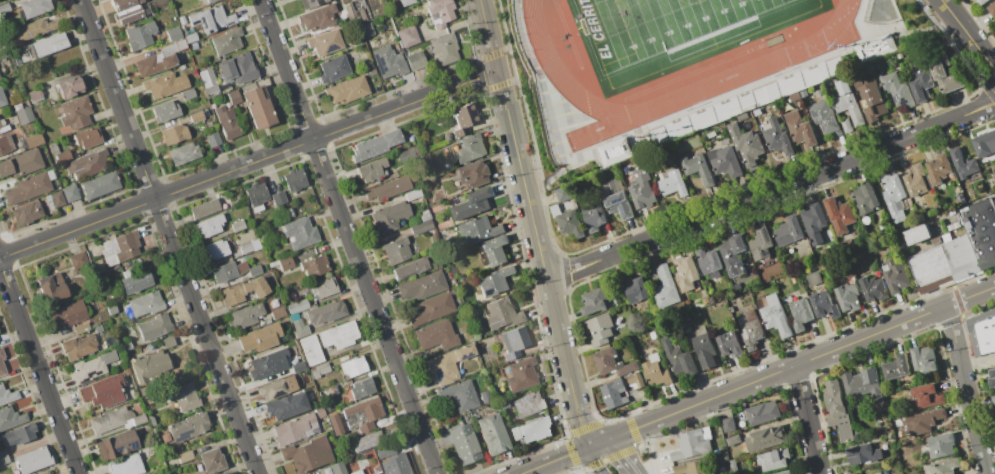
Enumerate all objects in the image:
building: (210, 1)
building: (410, 1)
building: (982, 1)
building: (311, 3)
building: (34, 7)
building: (4, 8)
building: (992, 10)
building: (128, 11)
building: (440, 11)
building: (350, 12)
building: (363, 15)
building: (318, 18)
building: (180, 19)
building: (211, 19)
building: (182, 24)
park: (652, 24)
building: (35, 29)
building: (369, 29)
building: (183, 31)
building: (174, 34)
building: (139, 35)
building: (408, 36)
road: (967, 36)
building: (191, 38)
building: (226, 41)
building: (326, 43)
building: (47, 45)
building: (194, 46)
building: (873, 47)
building: (445, 49)
building: (16, 57)
building: (159, 59)
building: (415, 60)
building: (389, 62)
building: (368, 64)
building: (182, 67)
building: (238, 68)
building: (333, 68)
building: (943, 72)
building: (371, 73)
track: (733, 74)
building: (805, 78)
building: (0, 79)
building: (16, 80)
building: (209, 81)
building: (165, 84)
building: (921, 85)
building: (70, 88)
building: (226, 88)
building: (347, 90)
building: (897, 90)
building: (188, 94)
building: (35, 96)
building: (234, 97)
building: (2, 98)
building: (871, 100)
building: (848, 102)
building: (258, 106)
building: (166, 111)
building: (74, 113)
building: (27, 115)
building: (198, 116)
building: (825, 117)
building: (464, 118)
building: (1, 122)
building: (228, 122)
building: (208, 124)
building: (846, 125)
building: (800, 128)
building: (174, 134)
building: (776, 137)
building: (88, 138)
building: (213, 139)
building: (32, 141)
building: (984, 143)
building: (6, 144)
building: (375, 145)
building: (746, 145)
building: (471, 148)
building: (184, 153)
building: (64, 156)
building: (406, 156)
building: (608, 160)
building: (724, 161)
road: (247, 163)
building: (21, 164)
building: (88, 164)
building: (965, 165)
building: (994, 167)
building: (697, 168)
building: (938, 168)
building: (994, 169)
building: (372, 170)
building: (627, 173)
building: (475, 174)
building: (294, 179)
building: (915, 180)
road: (797, 181)
building: (672, 183)
building: (100, 185)
building: (30, 187)
building: (389, 189)
building: (641, 191)
building: (71, 193)
building: (413, 194)
road: (524, 194)
building: (257, 196)
building: (894, 196)
building: (279, 198)
building: (616, 198)
building: (959, 198)
building: (54, 199)
building: (864, 199)
building: (473, 204)
building: (205, 209)
building: (290, 211)
building: (26, 213)
building: (839, 214)
building: (425, 215)
building: (389, 217)
building: (594, 217)
building: (567, 220)
building: (814, 223)
building: (209, 226)
building: (238, 226)
building: (953, 226)
building: (421, 227)
building: (480, 230)
building: (981, 230)
building: (788, 231)
building: (302, 233)
building: (266, 234)
road: (894, 234)
building: (917, 234)
road: (169, 236)
road: (347, 237)
building: (935, 241)
building: (760, 243)
building: (121, 248)
building: (246, 248)
building: (216, 250)
building: (397, 251)
building: (495, 251)
building: (732, 254)
building: (961, 256)
building: (79, 260)
building: (708, 262)
building: (284, 263)
building: (315, 265)
building: (98, 266)
building: (410, 268)
building: (930, 269)
building: (255, 270)
road: (571, 270)
building: (228, 271)
building: (684, 273)
building: (895, 276)
building: (813, 278)
building: (135, 281)
building: (495, 281)
building: (422, 285)
building: (52, 287)
building: (323, 288)
building: (664, 288)
building: (873, 288)
building: (635, 289)
building: (242, 291)
building: (848, 297)
building: (595, 301)
building: (705, 301)
building: (146, 304)
building: (96, 305)
building: (824, 305)
building: (298, 306)
building: (112, 308)
building: (432, 309)
building: (708, 310)
building: (326, 312)
building: (279, 313)
building: (503, 314)
building: (774, 314)
building: (800, 314)
building: (66, 316)
building: (246, 316)
building: (294, 316)
building: (95, 325)
building: (685, 325)
building: (155, 327)
building: (300, 328)
building: (82, 329)
building: (600, 329)
building: (750, 329)
building: (982, 332)
building: (339, 335)
building: (436, 335)
building: (259, 339)
building: (112, 340)
building: (168, 342)
building: (513, 342)
building: (729, 344)
building: (79, 346)
building: (125, 346)
building: (312, 350)
building: (704, 350)
building: (489, 353)
building: (678, 357)
building: (924, 359)
building: (2, 363)
building: (612, 363)
building: (448, 364)
road: (796, 364)
building: (265, 366)
building: (354, 366)
building: (92, 367)
building: (150, 367)
building: (298, 367)
building: (896, 367)
road: (38, 370)
building: (320, 370)
building: (127, 371)
building: (655, 372)
building: (522, 374)
building: (991, 378)
building: (635, 380)
building: (864, 385)
building: (277, 388)
building: (144, 390)
building: (359, 390)
road: (966, 390)
building: (329, 391)
building: (104, 392)
building: (614, 393)
building: (7, 395)
building: (183, 396)
building: (460, 396)
building: (485, 396)
building: (926, 397)
building: (993, 401)
building: (529, 404)
building: (285, 406)
building: (836, 408)
building: (763, 413)
building: (363, 414)
building: (10, 418)
road: (580, 418)
road: (807, 419)
building: (115, 420)
building: (925, 420)
building: (151, 421)
building: (335, 424)
building: (728, 424)
building: (187, 427)
building: (297, 428)
building: (533, 430)
building: (155, 431)
building: (857, 433)
building: (493, 434)
building: (18, 435)
building: (165, 437)
building: (765, 438)
building: (372, 440)
building: (733, 440)
traffic signals: (597, 443)
building: (693, 443)
building: (465, 444)
building: (117, 445)
building: (941, 445)
building: (716, 451)
building: (861, 454)
building: (308, 455)
road: (617, 455)
building: (185, 456)
building: (3, 457)
building: (724, 457)
road: (558, 458)
road: (595, 459)
building: (773, 459)
building: (34, 460)
building: (212, 461)
building: (127, 465)
building: (394, 465)
building: (733, 466)
building: (339, 467)
building: (946, 467)
building: (692, 468)
building: (912, 469)
building: (377, 470)
building: (887, 471)
building: (44, 472)
building: (356, 472)
building: (784, 472)
building: (378, 473)
building: (878, 473)

